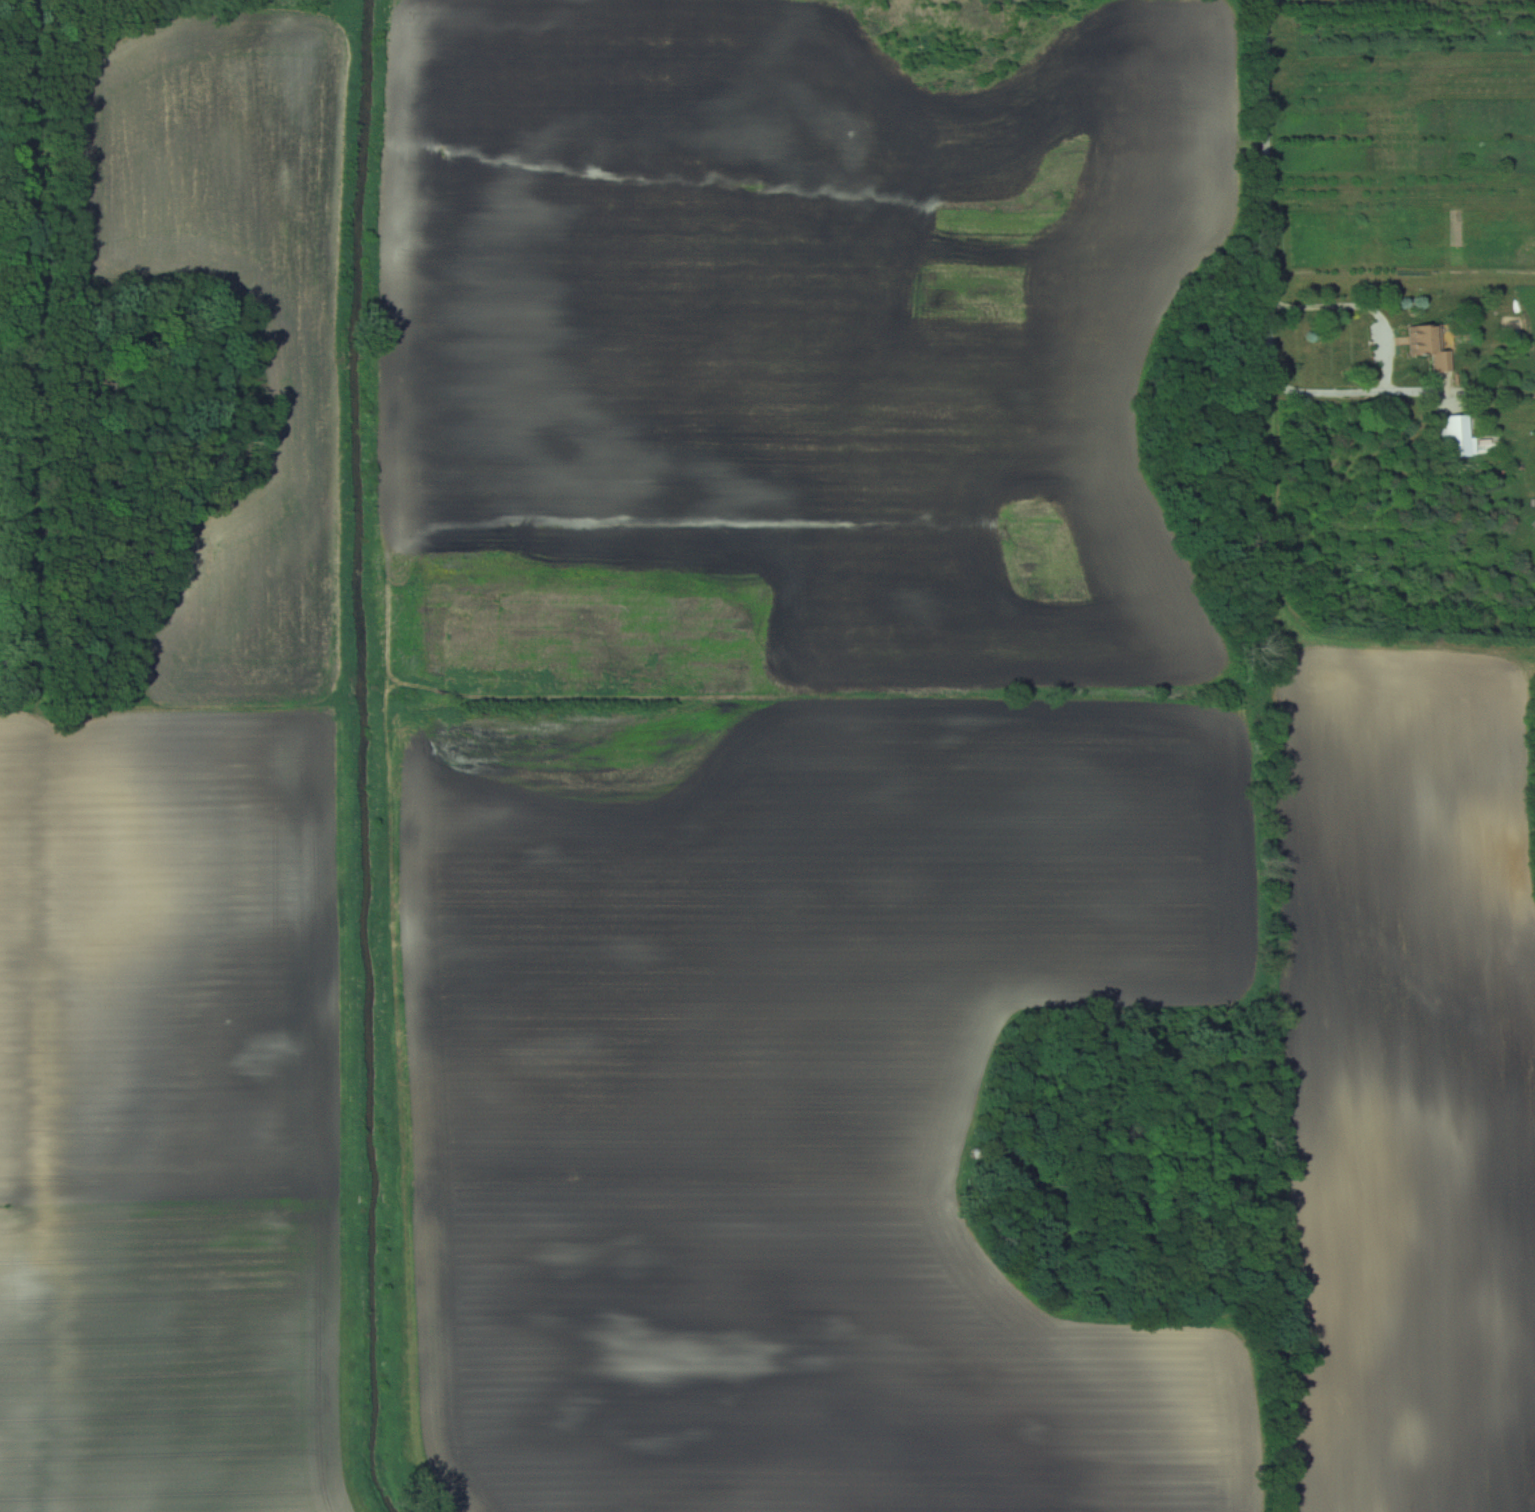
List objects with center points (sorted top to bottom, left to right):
road: (1269, 146)
building: (1426, 346)
road: (1385, 392)
building: (1457, 437)

